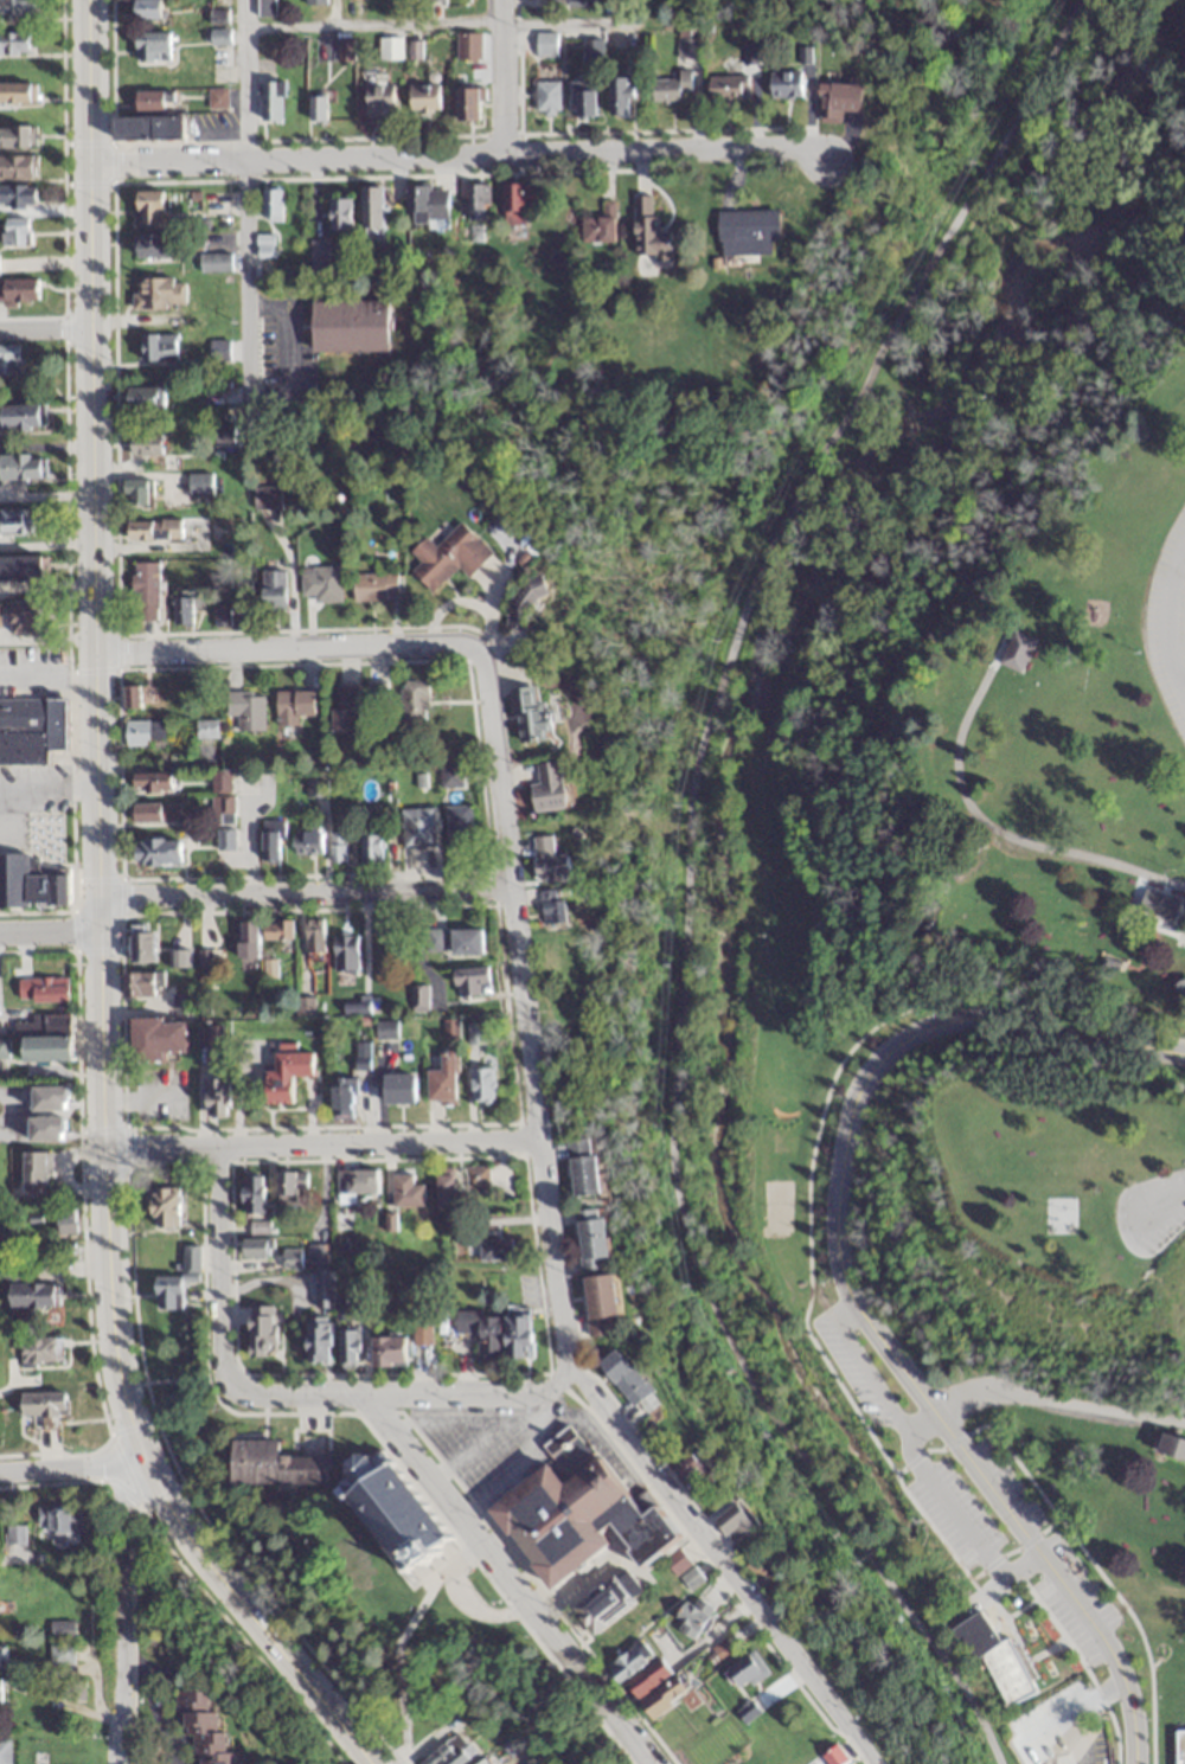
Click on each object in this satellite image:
building: (314, 1)
building: (15, 7)
building: (265, 7)
building: (146, 9)
park: (844, 9)
road: (443, 25)
building: (13, 43)
building: (545, 44)
building: (467, 45)
building: (152, 46)
building: (685, 46)
building: (389, 47)
building: (590, 50)
road: (505, 75)
building: (783, 83)
building: (726, 85)
building: (670, 86)
building: (17, 91)
building: (616, 95)
building: (422, 96)
building: (545, 96)
building: (216, 97)
building: (378, 97)
building: (582, 97)
building: (148, 100)
building: (270, 100)
building: (837, 100)
building: (470, 103)
building: (318, 107)
street lamp: (69, 116)
building: (147, 127)
building: (17, 136)
road: (668, 146)
road: (297, 154)
building: (15, 166)
street lamp: (121, 178)
building: (17, 195)
building: (476, 201)
building: (271, 204)
road: (244, 205)
building: (429, 205)
building: (520, 205)
building: (147, 206)
building: (370, 206)
building: (338, 212)
building: (597, 225)
building: (647, 231)
building: (14, 232)
building: (743, 235)
building: (152, 245)
building: (318, 259)
building: (214, 263)
street lamp: (70, 269)
building: (18, 290)
building: (158, 293)
road: (44, 325)
building: (350, 326)
building: (158, 347)
road: (283, 354)
building: (9, 360)
street lamp: (108, 368)
building: (143, 397)
building: (20, 417)
building: (143, 444)
building: (21, 467)
building: (199, 485)
building: (134, 492)
building: (265, 496)
building: (20, 521)
building: (152, 528)
building: (448, 556)
building: (21, 569)
building: (320, 583)
building: (373, 586)
building: (271, 589)
building: (143, 591)
street lamp: (110, 598)
building: (520, 601)
building: (180, 610)
building: (23, 617)
road: (1162, 617)
parking lot: (1167, 618)
road: (287, 647)
building: (1016, 650)
road: (46, 680)
building: (130, 697)
building: (412, 700)
building: (376, 703)
building: (293, 706)
building: (344, 707)
building: (245, 708)
building: (531, 717)
building: (206, 727)
building: (30, 730)
building: (142, 732)
road: (95, 738)
building: (449, 776)
building: (150, 782)
road: (47, 785)
building: (315, 788)
building: (546, 788)
building: (220, 810)
building: (155, 812)
building: (457, 826)
road: (984, 827)
building: (416, 828)
road: (250, 836)
building: (225, 840)
building: (306, 842)
building: (269, 845)
building: (335, 847)
building: (370, 847)
building: (156, 852)
building: (546, 861)
road: (684, 879)
building: (28, 885)
road: (305, 892)
building: (551, 909)
park: (989, 910)
street lamp: (114, 915)
building: (276, 930)
road: (51, 935)
building: (310, 937)
building: (246, 941)
building: (431, 941)
building: (465, 943)
building: (139, 945)
building: (344, 954)
building: (180, 958)
building: (141, 984)
building: (41, 989)
street lamp: (81, 989)
building: (180, 1001)
road: (523, 1007)
building: (40, 1024)
road: (974, 1024)
building: (385, 1029)
building: (449, 1029)
building: (474, 1034)
building: (156, 1039)
building: (44, 1048)
building: (284, 1076)
building: (441, 1080)
building: (480, 1086)
building: (397, 1089)
building: (216, 1098)
building: (342, 1098)
road: (321, 1141)
building: (34, 1169)
building: (474, 1178)
building: (354, 1182)
building: (443, 1186)
building: (289, 1187)
building: (405, 1193)
building: (251, 1195)
road: (1160, 1202)
building: (162, 1206)
building: (64, 1220)
building: (590, 1240)
building: (254, 1249)
building: (493, 1250)
building: (190, 1258)
building: (290, 1258)
road: (217, 1269)
building: (324, 1289)
building: (167, 1292)
building: (25, 1295)
road: (807, 1296)
building: (597, 1306)
building: (258, 1332)
building: (495, 1334)
building: (421, 1336)
building: (316, 1342)
building: (347, 1347)
building: (41, 1351)
building: (386, 1352)
building: (626, 1383)
road: (403, 1392)
road: (1056, 1401)
building: (41, 1404)
building: (1171, 1448)
building: (271, 1467)
road: (969, 1467)
building: (685, 1469)
road: (70, 1474)
street lamp: (204, 1507)
building: (387, 1513)
building: (57, 1521)
building: (574, 1524)
building: (731, 1526)
street lamp: (989, 1531)
road: (1064, 1541)
building: (15, 1544)
building: (673, 1565)
road: (719, 1567)
building: (758, 1572)
road: (501, 1579)
building: (687, 1580)
road: (437, 1587)
building: (604, 1608)
road: (1032, 1610)
road: (118, 1618)
road: (249, 1621)
building: (691, 1621)
building: (59, 1656)
building: (2, 1659)
building: (991, 1659)
building: (743, 1674)
building: (630, 1675)
building: (71, 1692)
building: (0, 1693)
road: (156, 1701)
building: (660, 1701)
road: (1066, 1715)
building: (203, 1726)
building: (1179, 1745)
building: (4, 1752)
building: (448, 1755)
building: (832, 1758)
building: (480, 1762)

